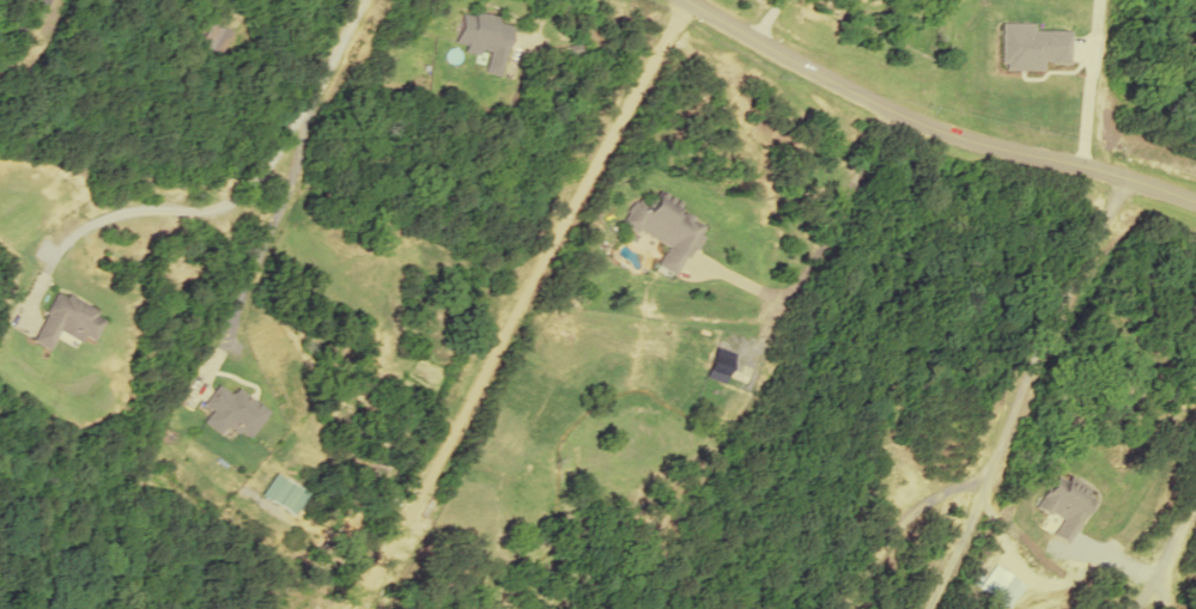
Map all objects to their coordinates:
building: (480, 36)
road: (930, 127)
road: (302, 169)
road: (223, 199)
road: (517, 304)
building: (63, 319)
road: (1056, 331)
building: (230, 410)
building: (279, 492)
road: (1173, 538)

